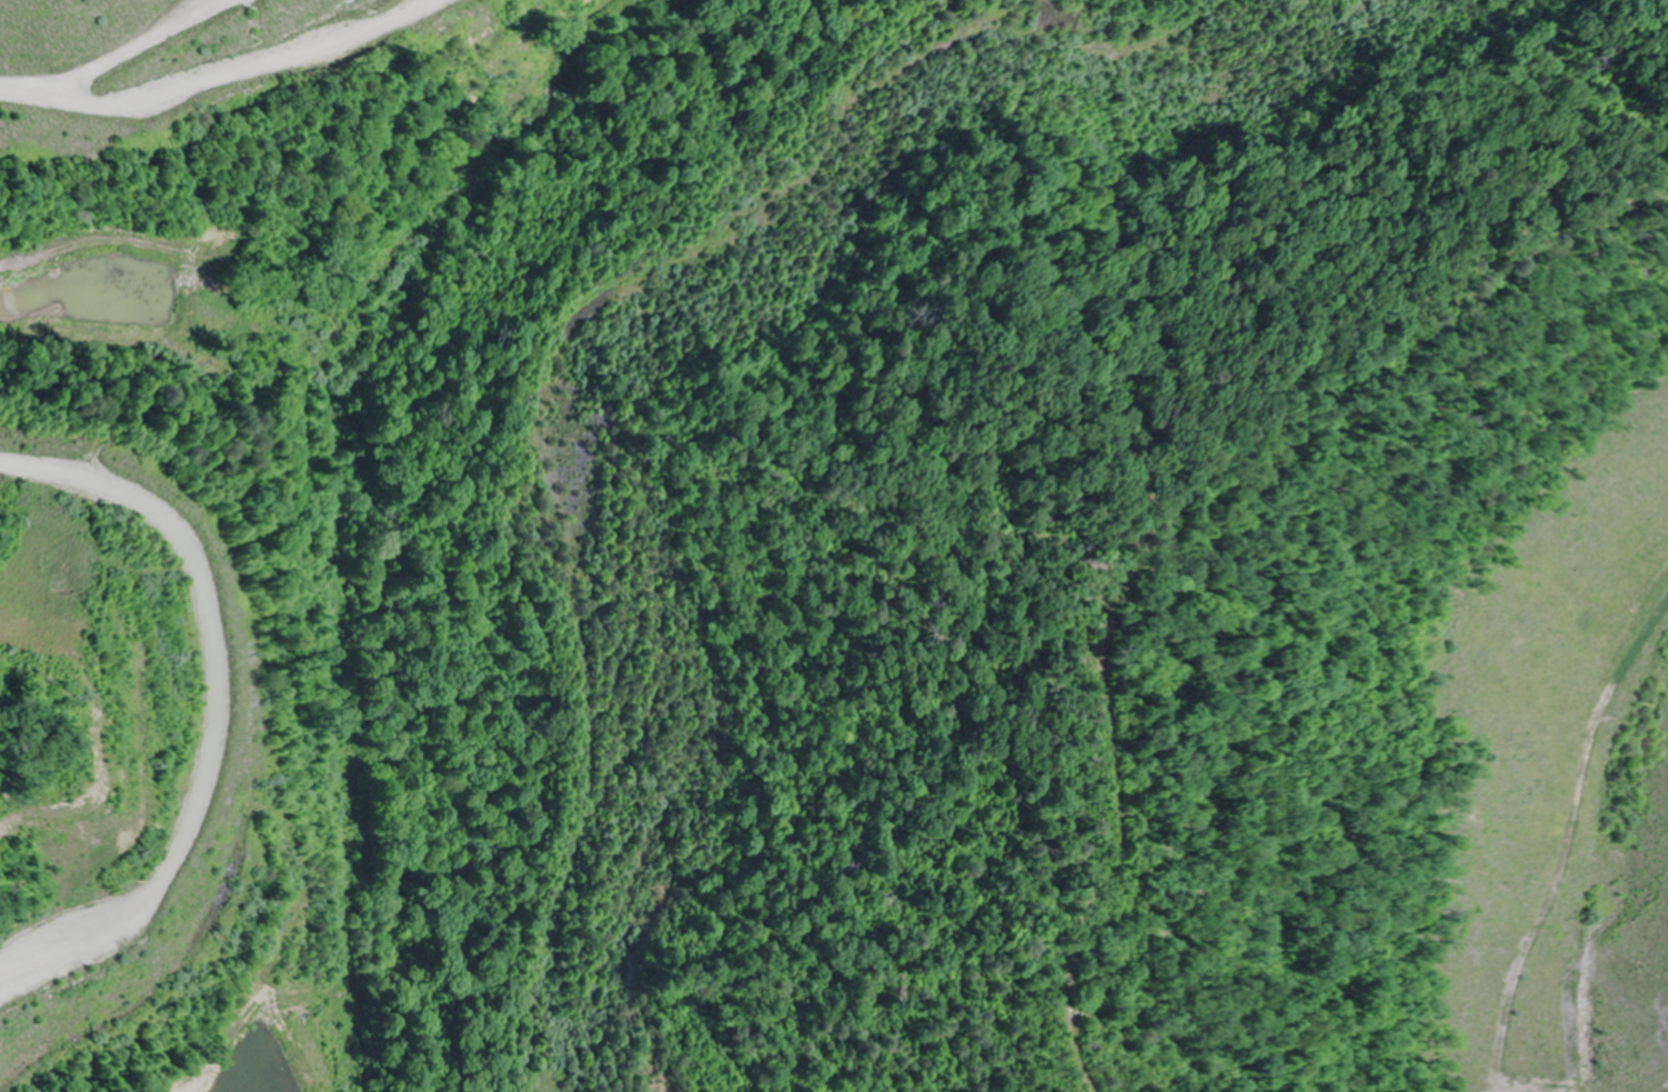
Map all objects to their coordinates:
road: (458, 157)
road: (290, 765)

